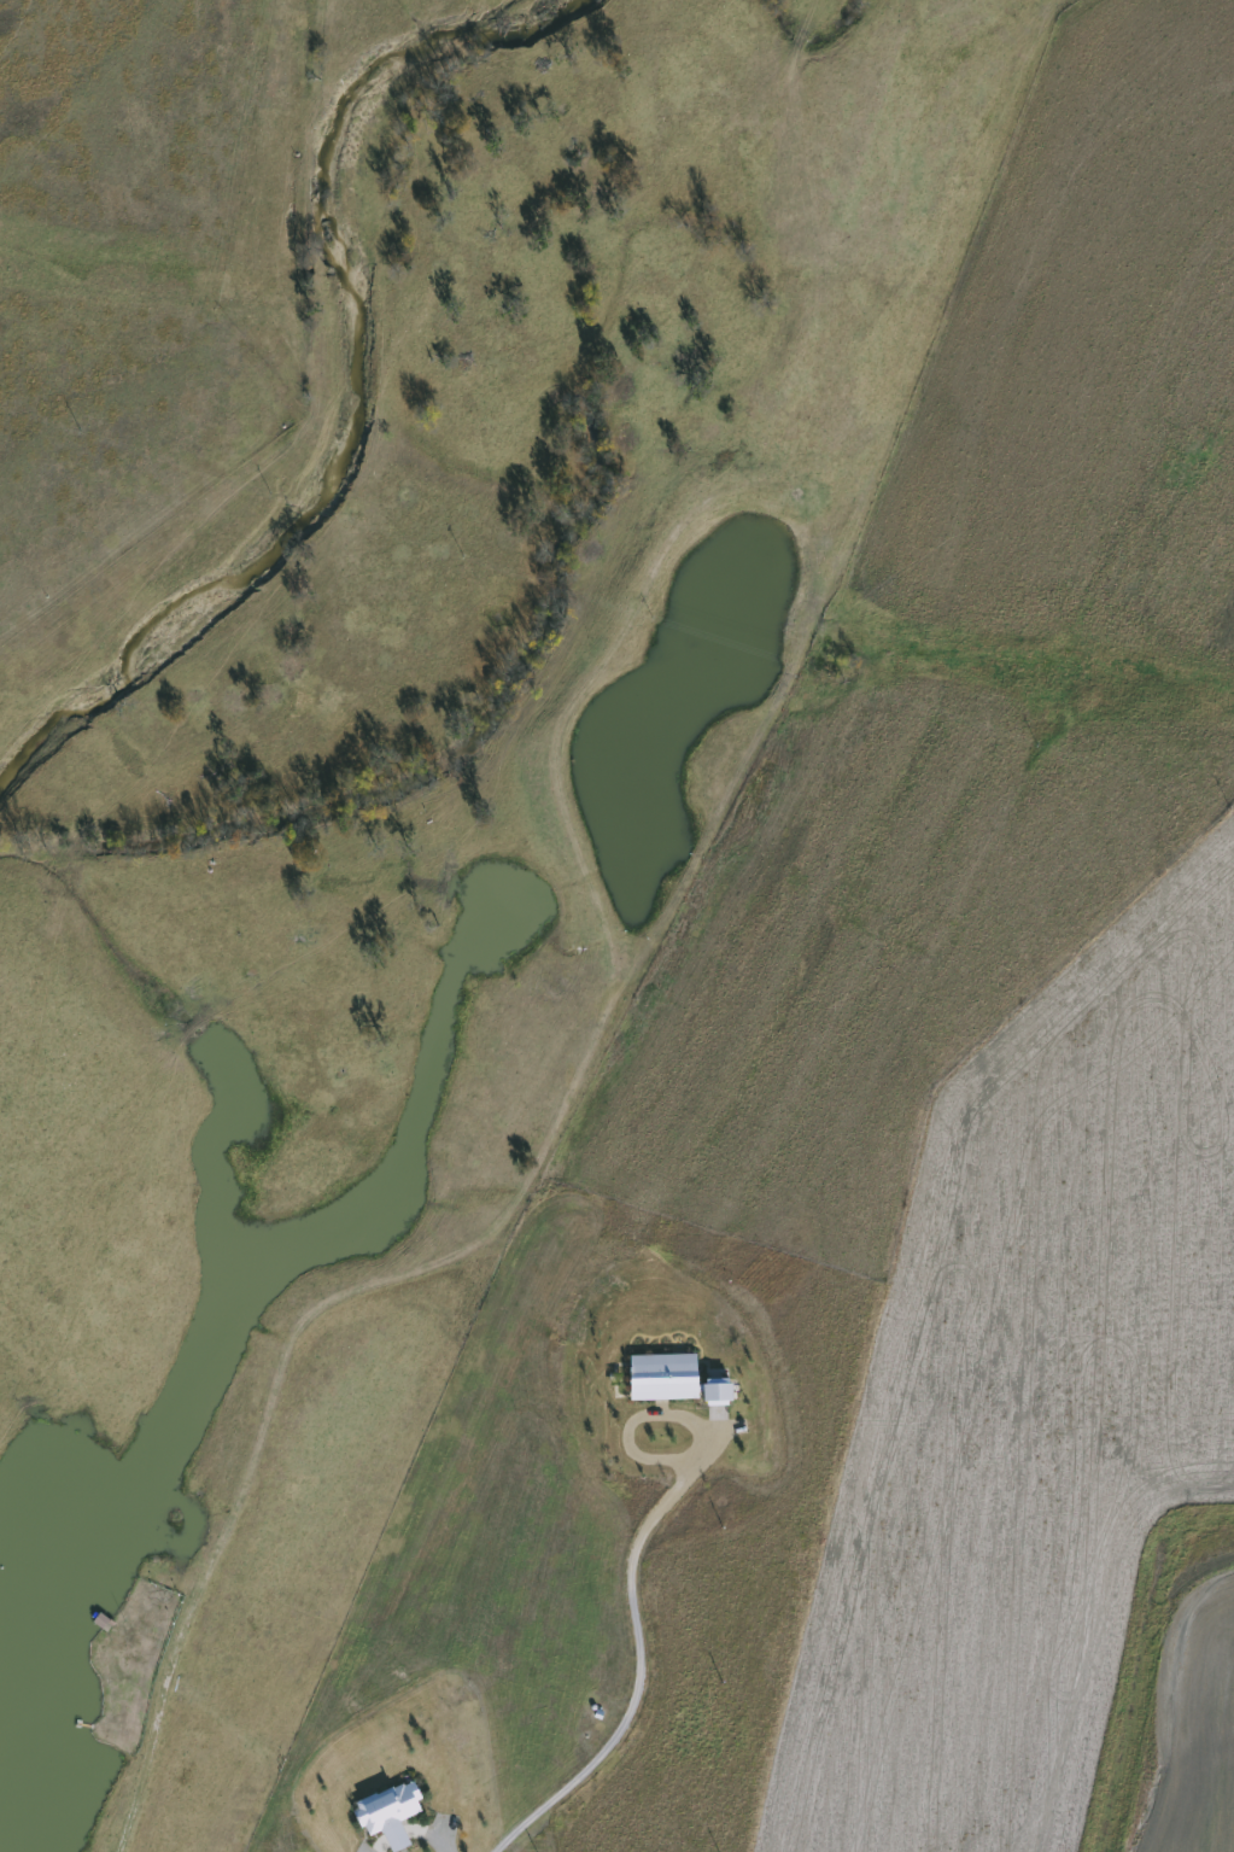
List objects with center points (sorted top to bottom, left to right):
road: (638, 1660)

